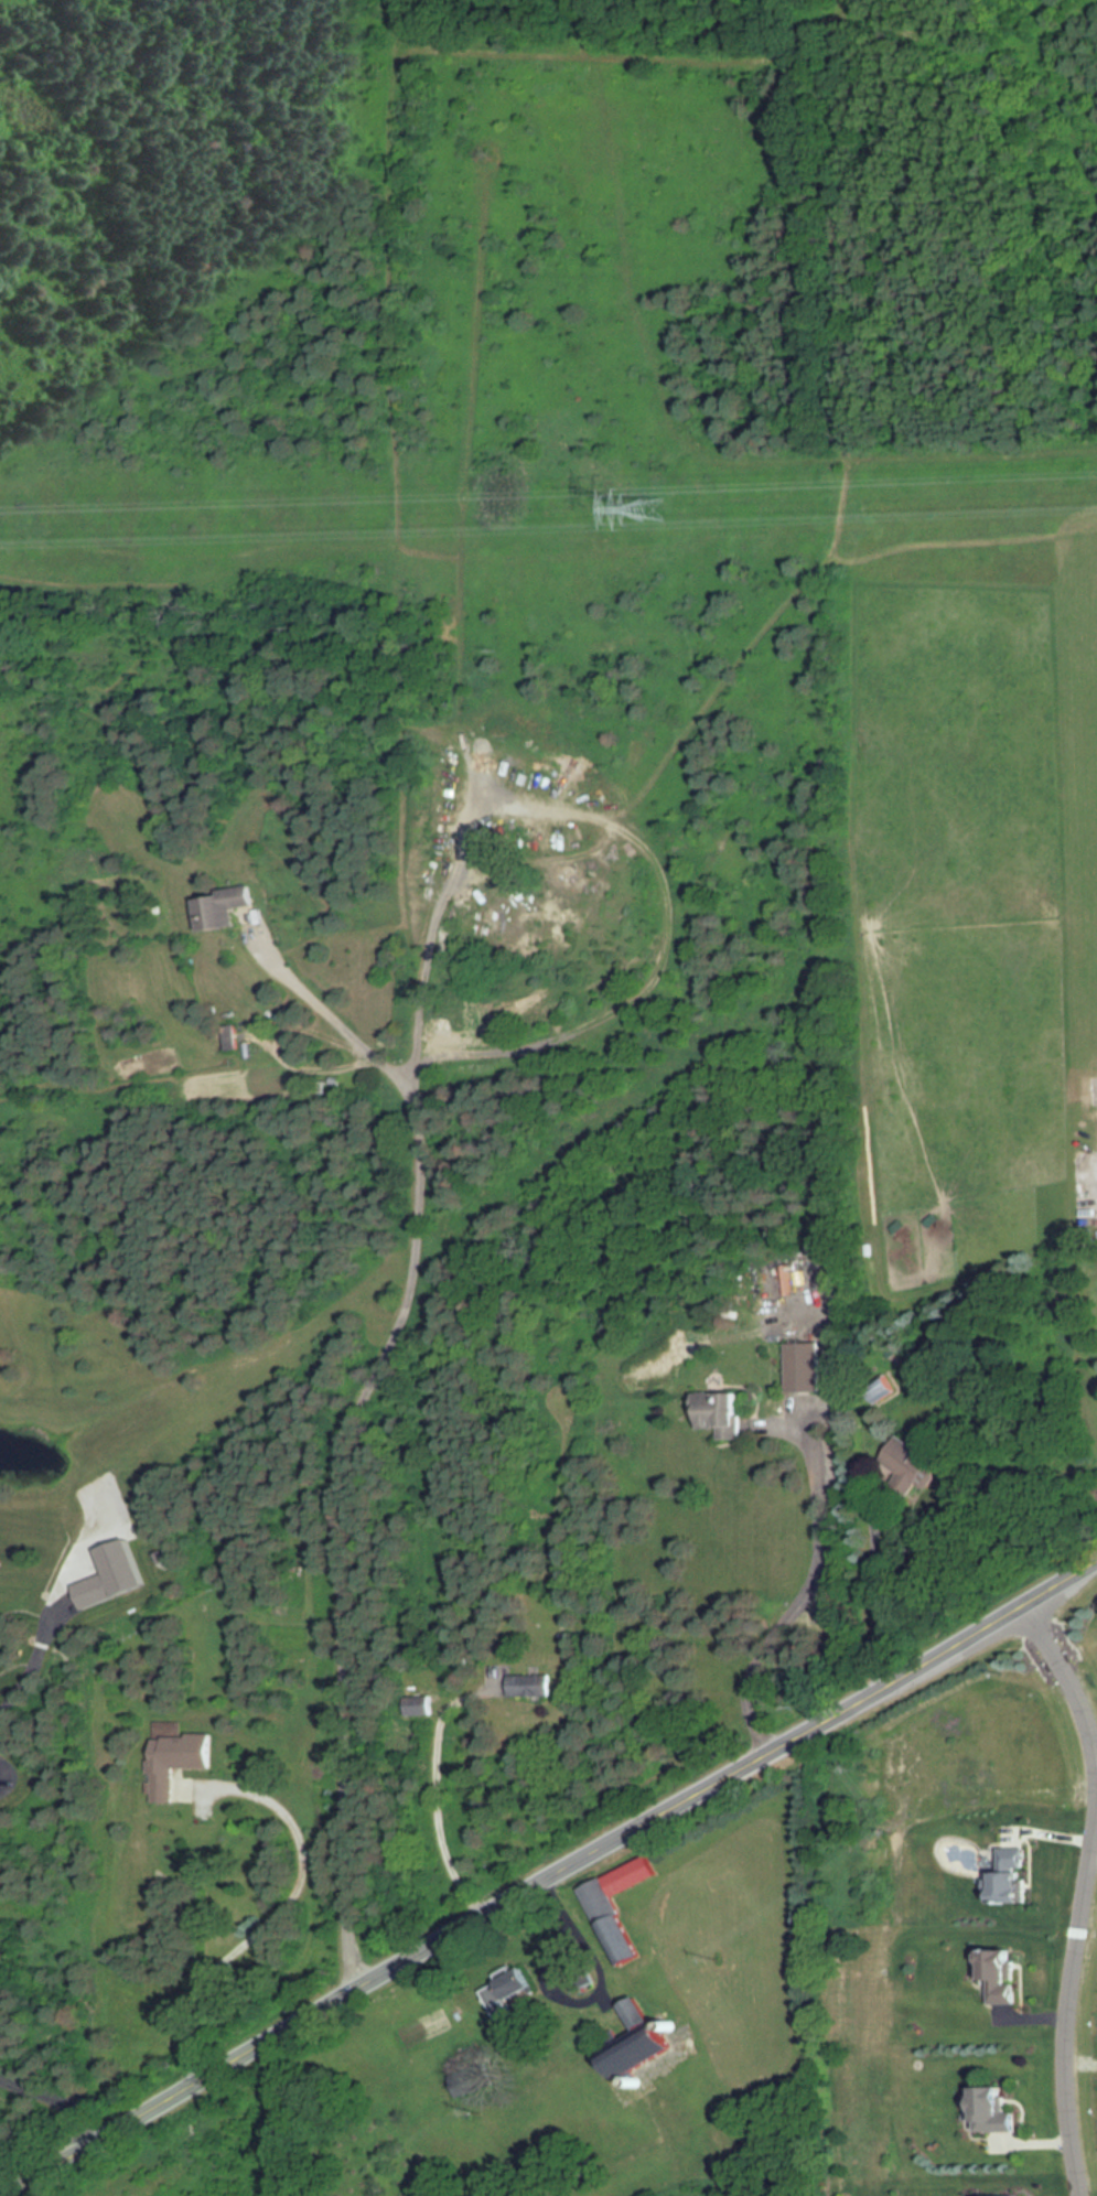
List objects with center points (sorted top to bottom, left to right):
power tower: (647, 513)
building: (221, 908)
road: (334, 1021)
building: (803, 1368)
building: (720, 1413)
road: (338, 1439)
building: (906, 1466)
building: (93, 1591)
road: (803, 1597)
road: (878, 1600)
road: (28, 1665)
road: (1067, 1669)
building: (529, 1684)
building: (417, 1705)
building: (173, 1757)
road: (437, 1808)
road: (550, 1879)
building: (616, 1907)
road: (273, 1920)
building: (571, 1968)
road: (602, 1984)
building: (513, 1991)
road: (1078, 2031)
building: (641, 2042)
building: (465, 2081)
road: (56, 2098)
building: (999, 2111)

